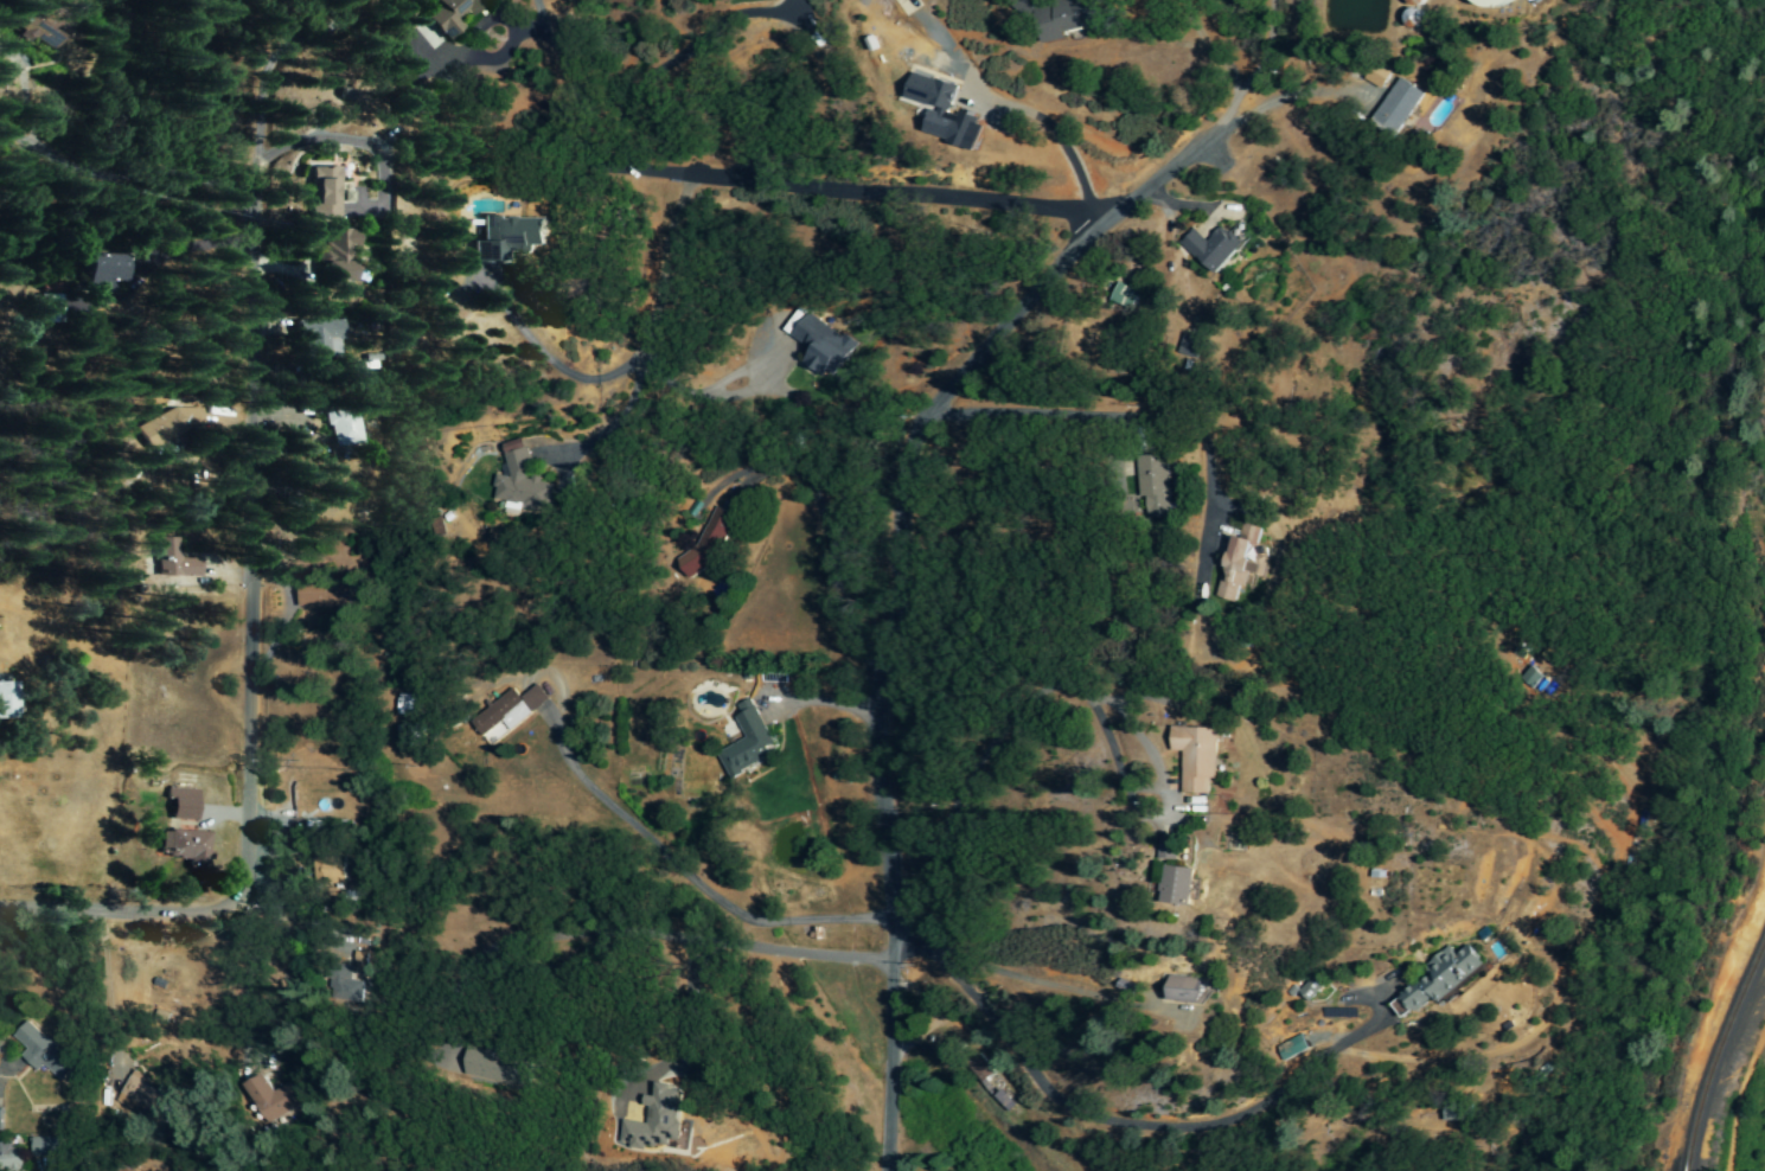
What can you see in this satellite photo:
building: (1490, 2)
building: (446, 17)
building: (1412, 19)
building: (1061, 23)
building: (33, 24)
road: (683, 50)
road: (564, 68)
road: (1248, 72)
building: (1374, 77)
building: (1395, 108)
building: (941, 113)
road: (1064, 142)
road: (122, 173)
road: (874, 191)
building: (321, 196)
building: (506, 238)
building: (1210, 249)
building: (333, 257)
building: (100, 274)
building: (1123, 296)
road: (1077, 338)
building: (1189, 338)
building: (316, 339)
road: (641, 347)
building: (821, 347)
road: (546, 358)
road: (1127, 415)
building: (168, 428)
building: (343, 433)
building: (519, 481)
building: (1152, 486)
road: (244, 555)
building: (173, 561)
building: (1240, 563)
road: (874, 588)
building: (320, 602)
building: (1530, 679)
road: (1061, 685)
building: (532, 697)
building: (6, 700)
building: (408, 704)
building: (498, 717)
building: (408, 736)
building: (746, 741)
building: (1195, 756)
building: (180, 805)
building: (184, 847)
road: (685, 882)
building: (1175, 884)
road: (766, 943)
building: (1438, 979)
road: (239, 986)
building: (341, 987)
building: (1307, 988)
building: (1183, 990)
building: (1290, 1048)
building: (41, 1051)
railway: (1718, 1054)
building: (485, 1068)
building: (992, 1080)
building: (138, 1095)
building: (263, 1098)
building: (653, 1120)
road: (1114, 1122)
building: (44, 1147)
building: (9, 1158)

